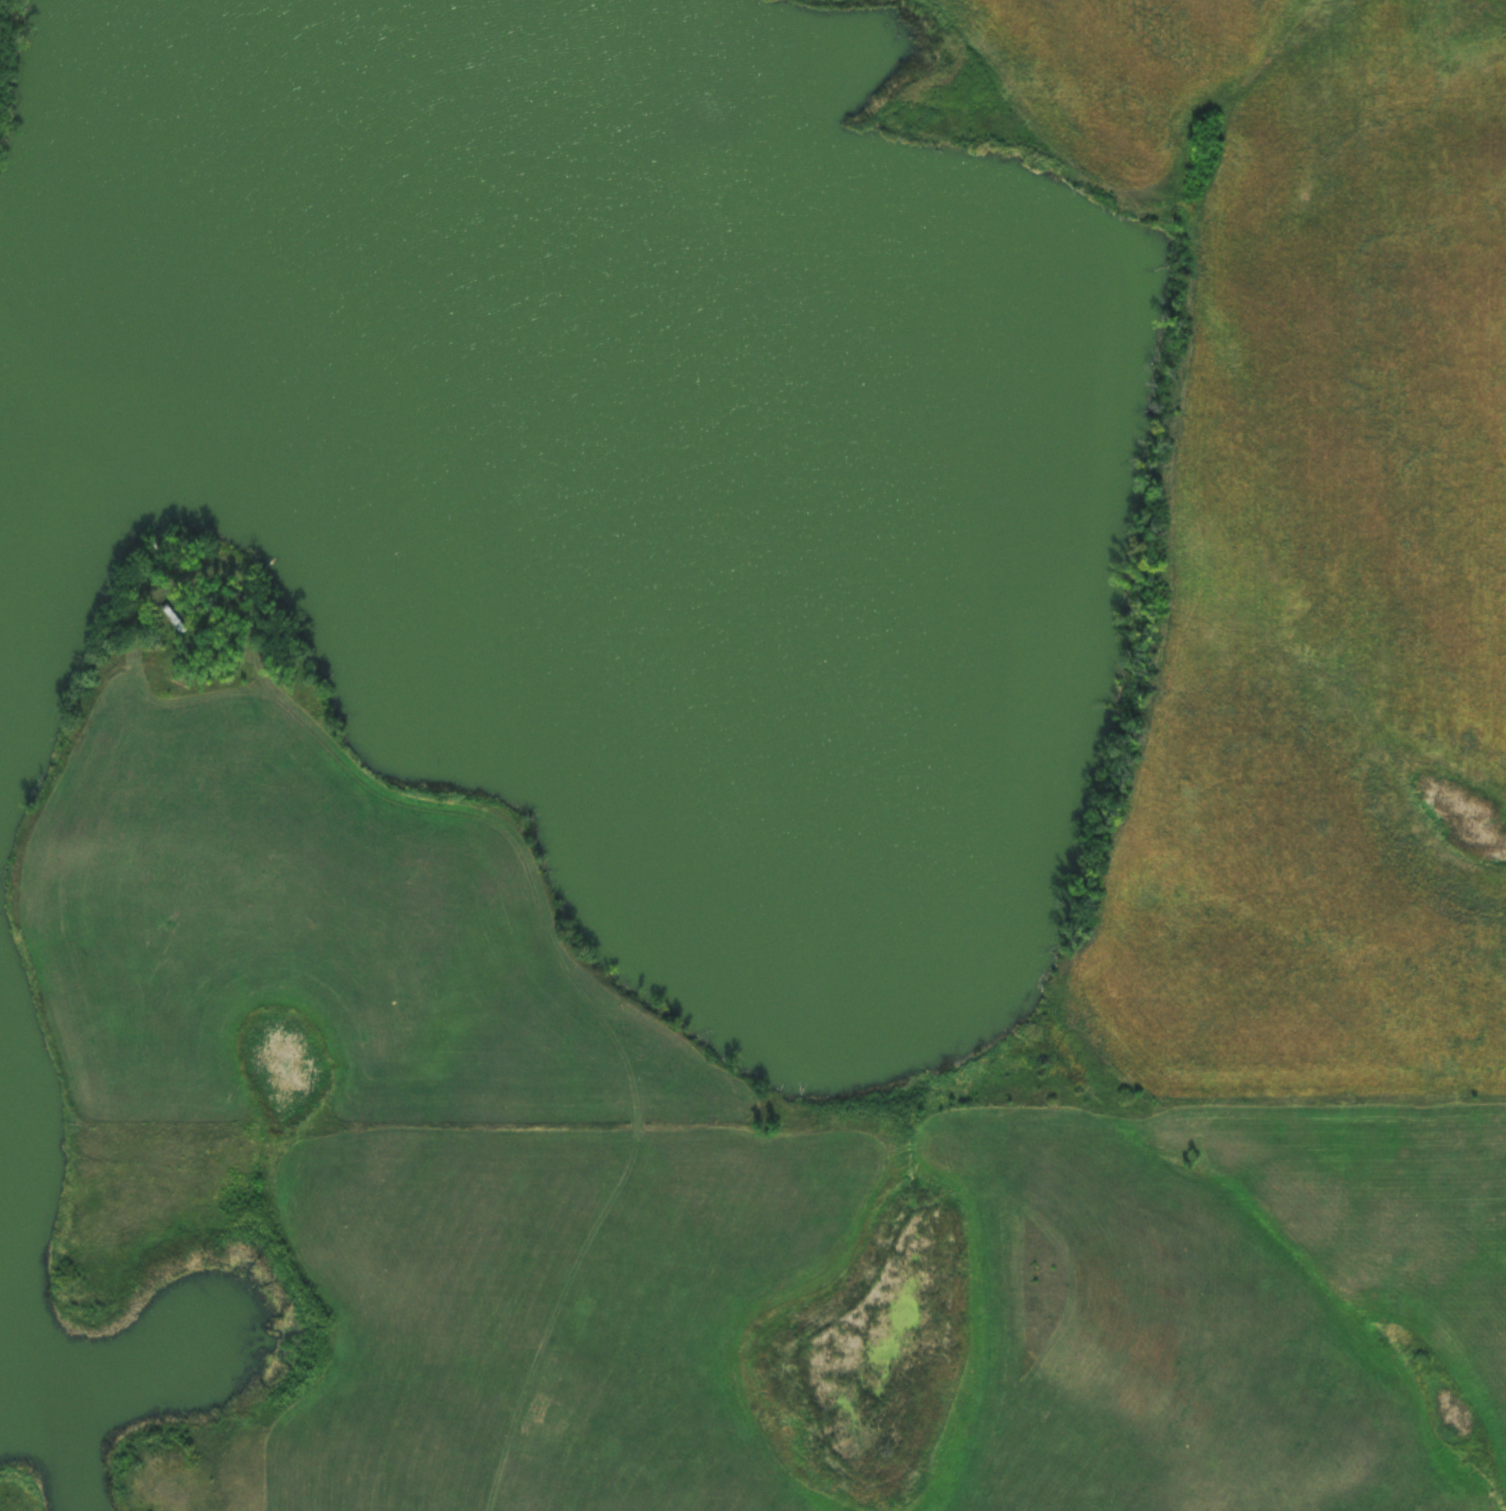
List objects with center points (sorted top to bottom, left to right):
building: (173, 618)

